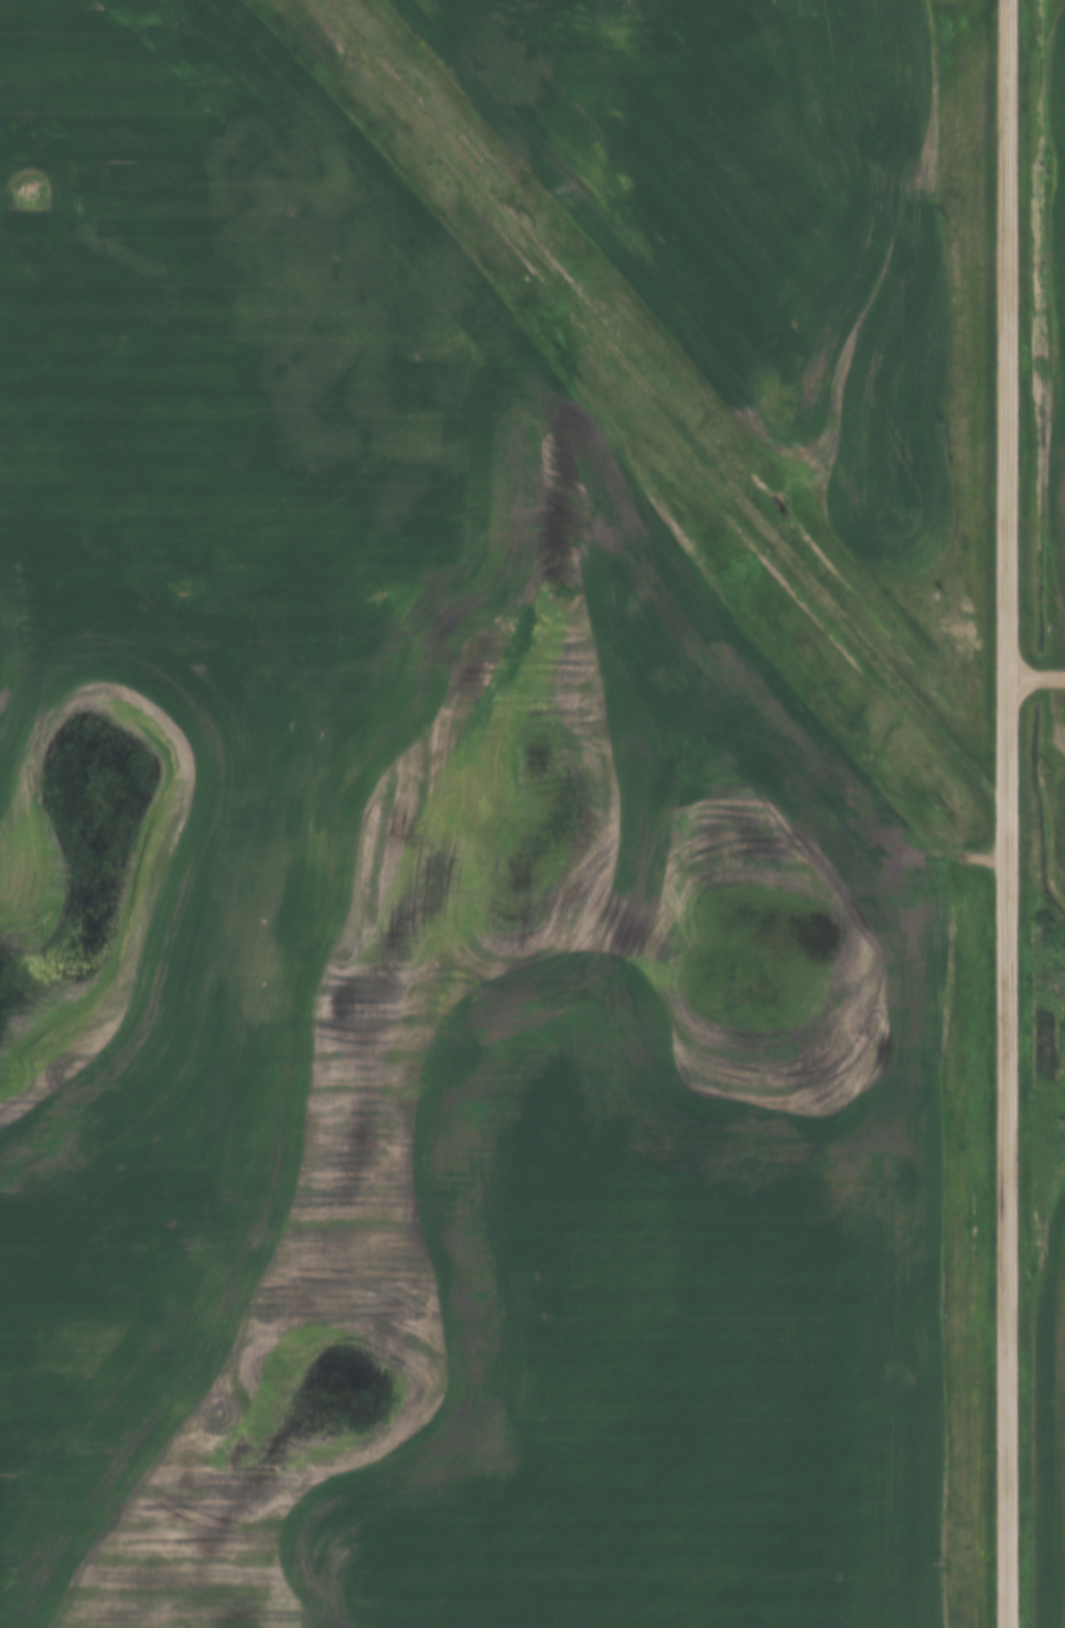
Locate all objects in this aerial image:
road: (1037, 679)
road: (1005, 813)

